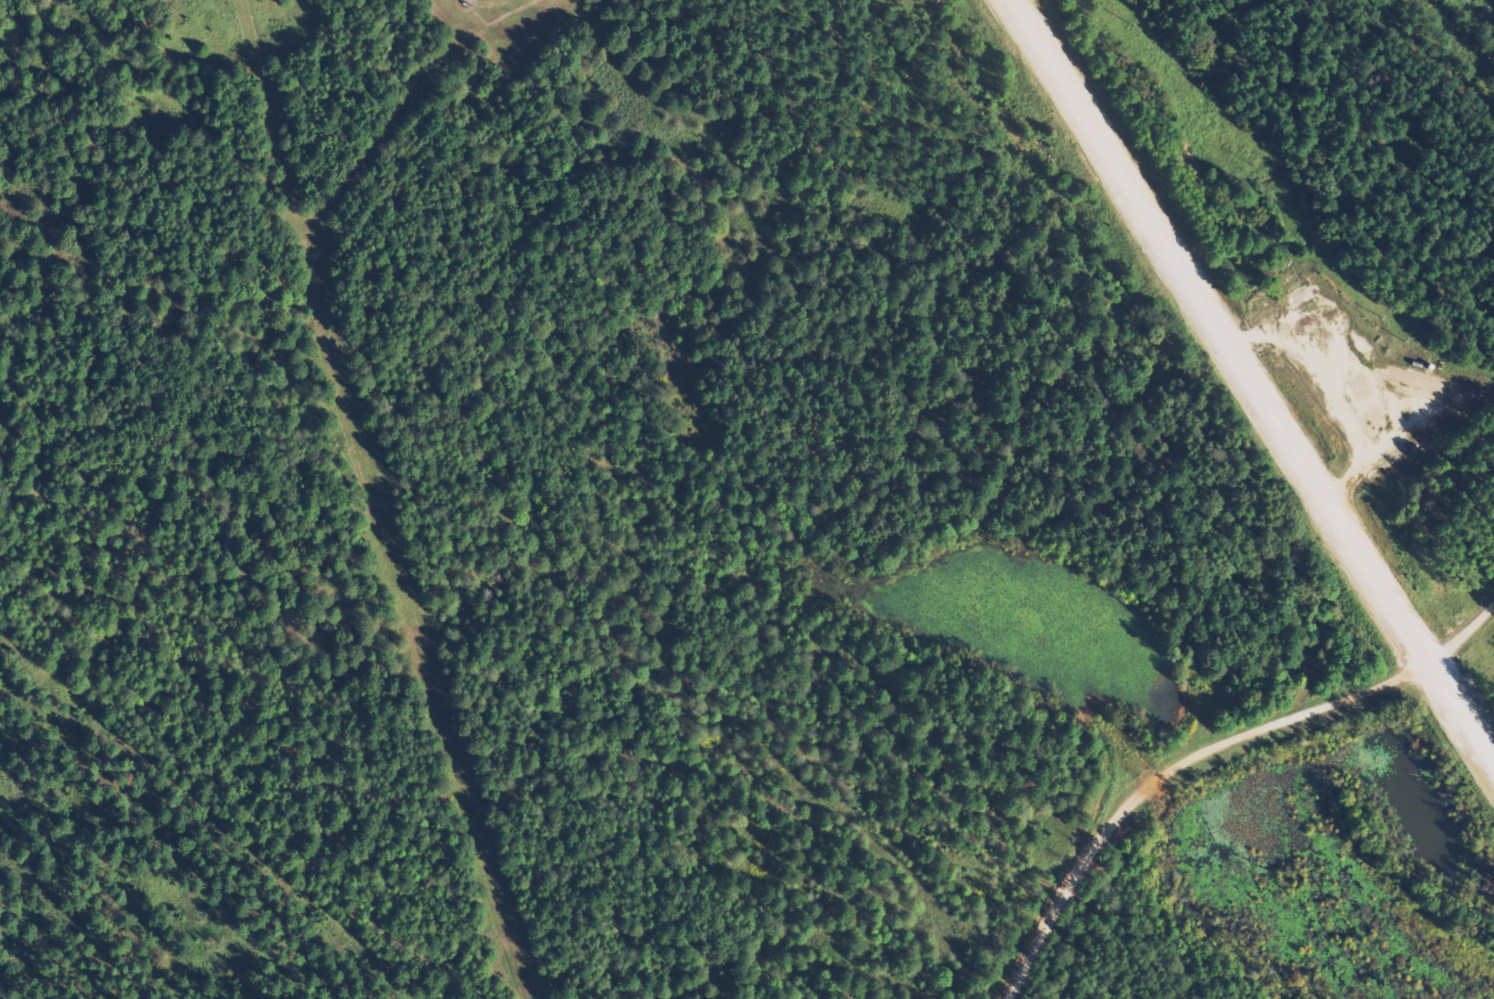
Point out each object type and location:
road: (1253, 382)
road: (1168, 769)

